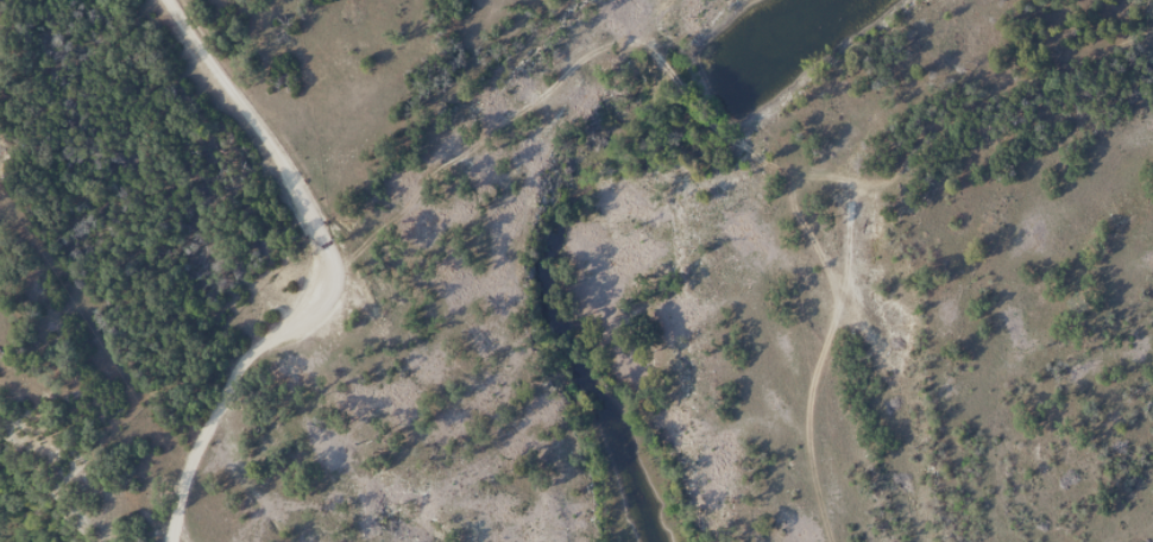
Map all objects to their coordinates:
road: (329, 270)

